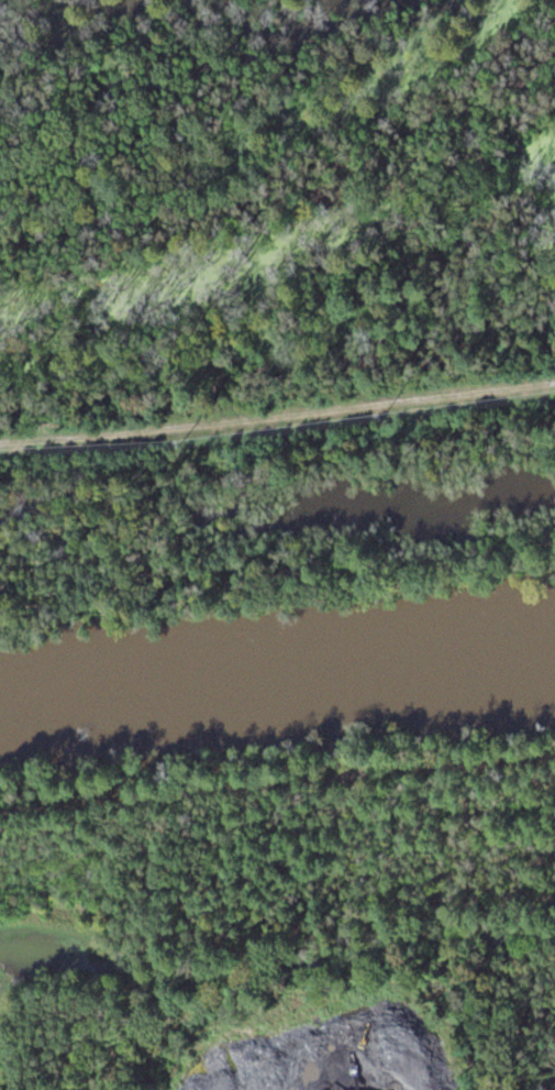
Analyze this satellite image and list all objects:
river: (277, 686)

